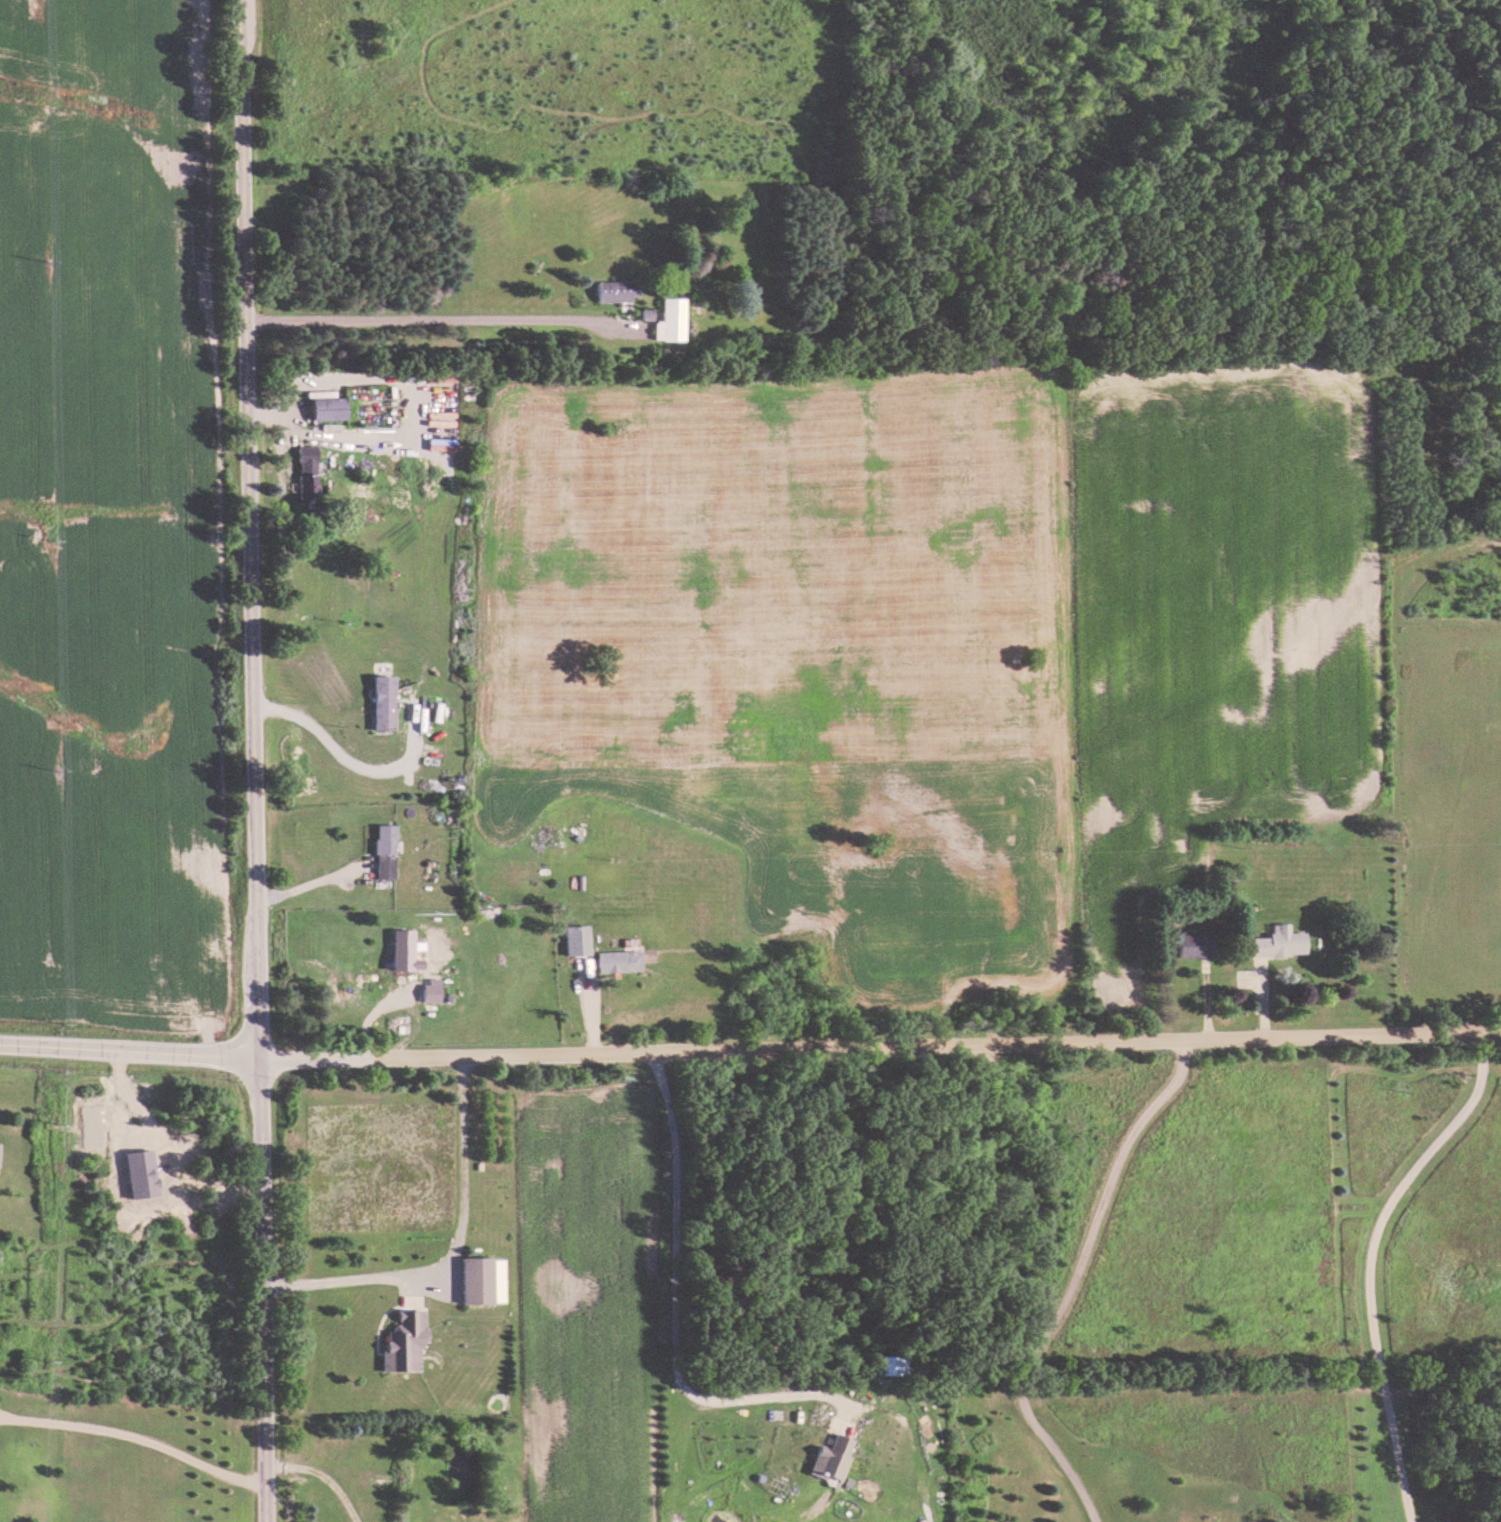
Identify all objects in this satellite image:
building: (616, 292)
building: (671, 321)
road: (433, 325)
building: (328, 409)
building: (306, 472)
building: (382, 704)
road: (339, 755)
road: (251, 761)
building: (383, 852)
road: (304, 884)
building: (576, 941)
building: (1279, 943)
building: (1196, 946)
building: (402, 953)
building: (618, 962)
building: (430, 994)
road: (877, 1044)
road: (126, 1048)
road: (452, 1252)
road: (1384, 1260)
building: (482, 1281)
road: (1073, 1282)
road: (673, 1292)
building: (404, 1344)
road: (134, 1435)
building: (832, 1460)
road: (319, 1473)

